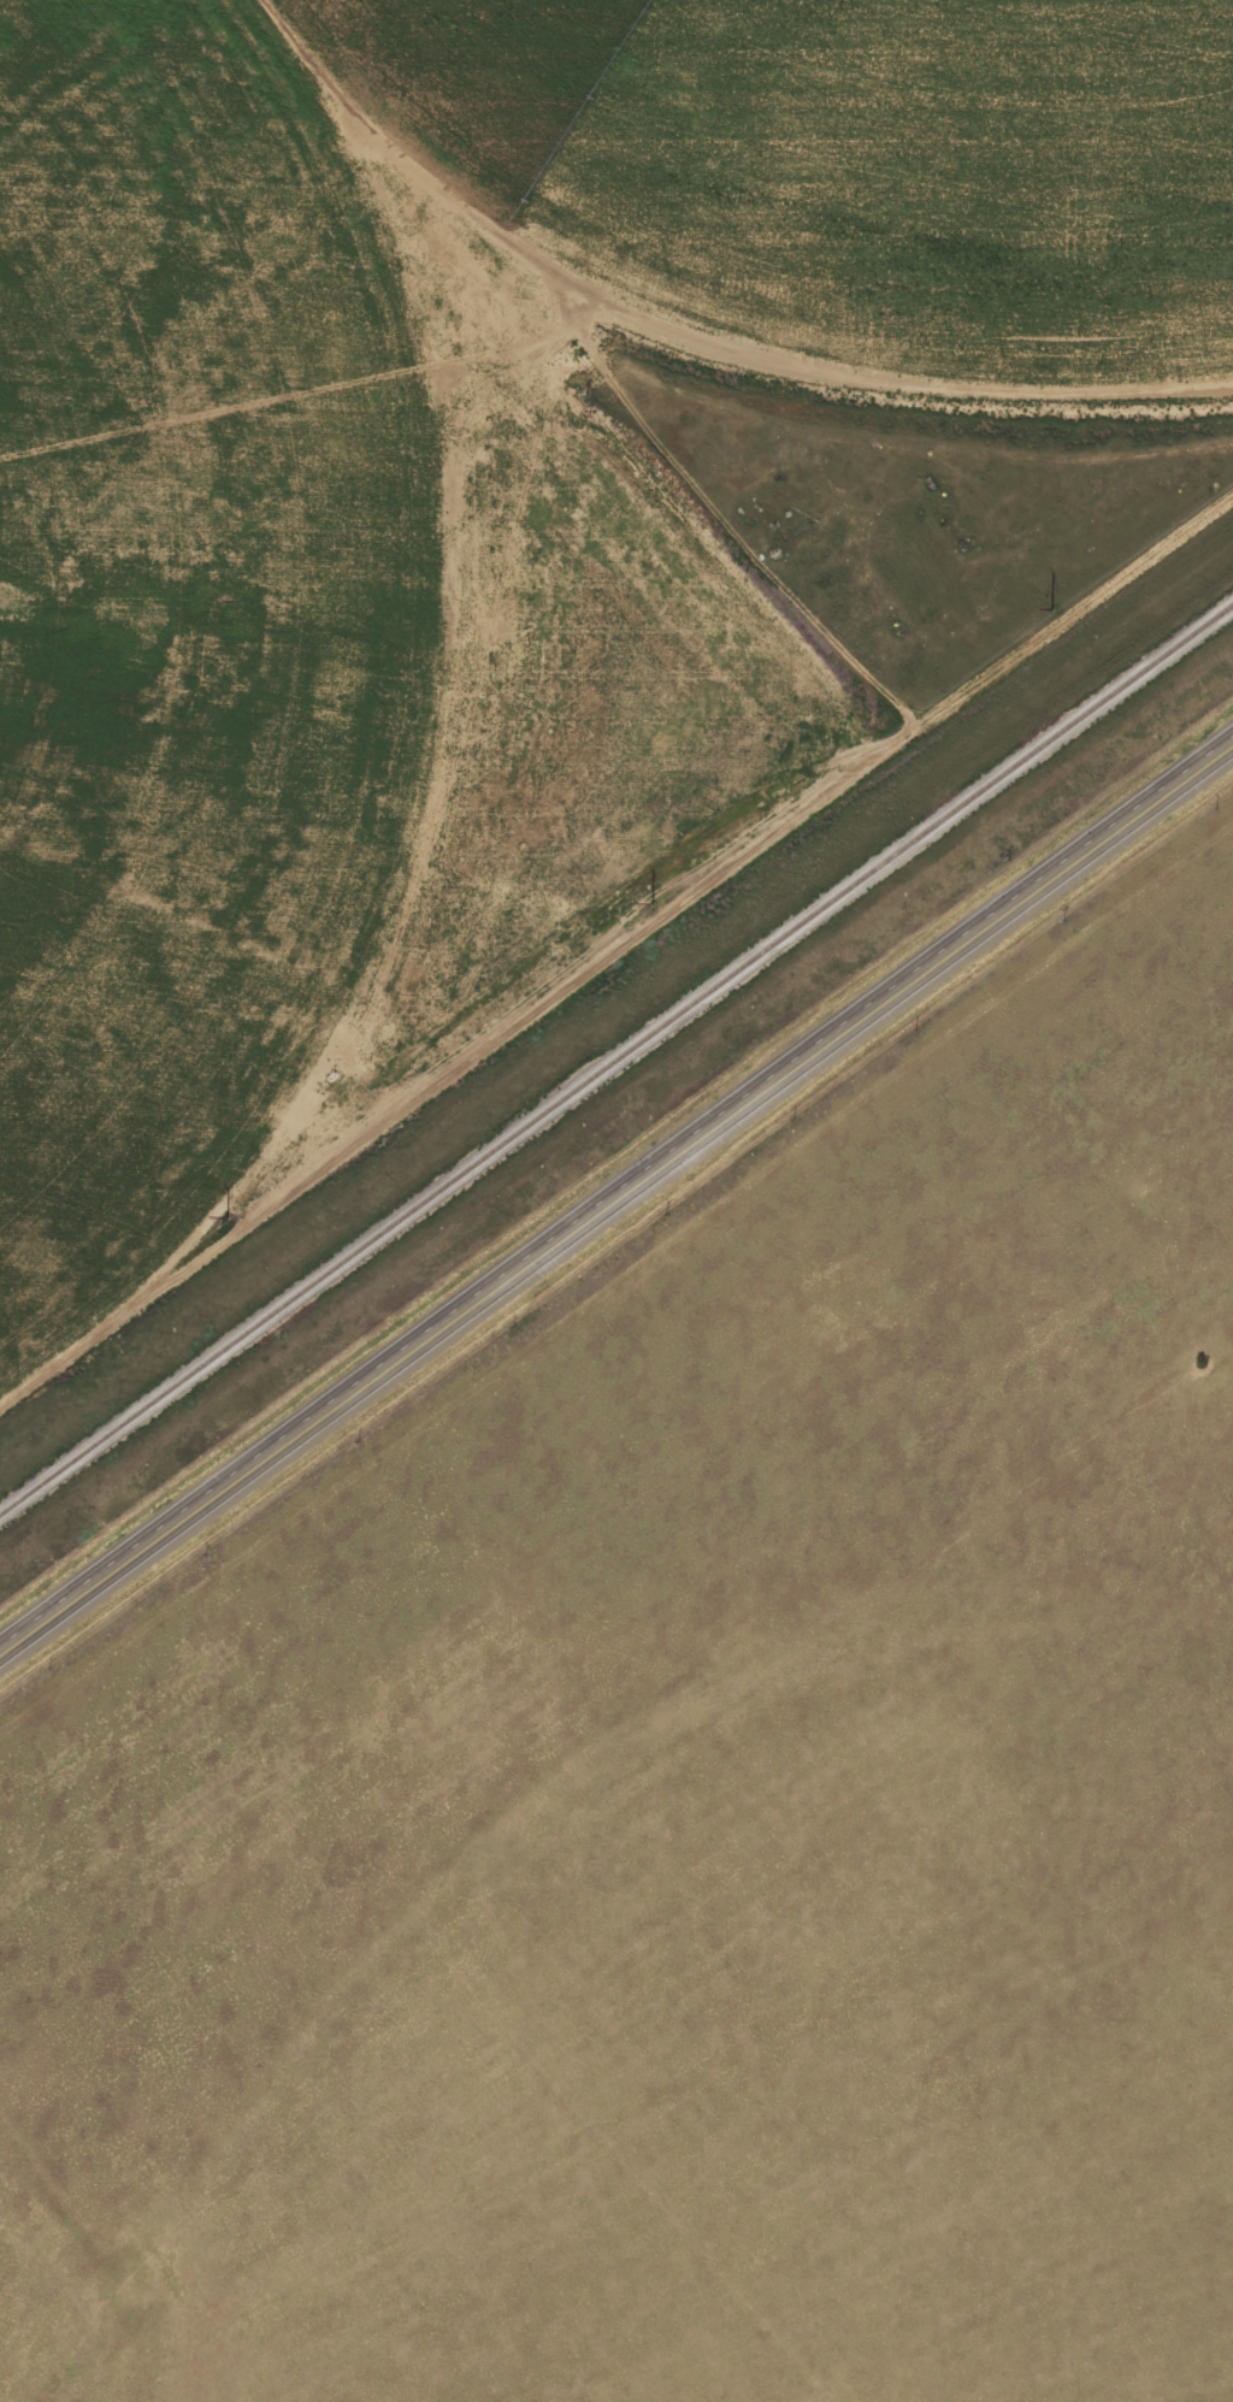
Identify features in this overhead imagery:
power tower: (1051, 610)
power tower: (651, 903)
railway: (616, 1062)
road: (616, 1196)
power tower: (228, 1216)

